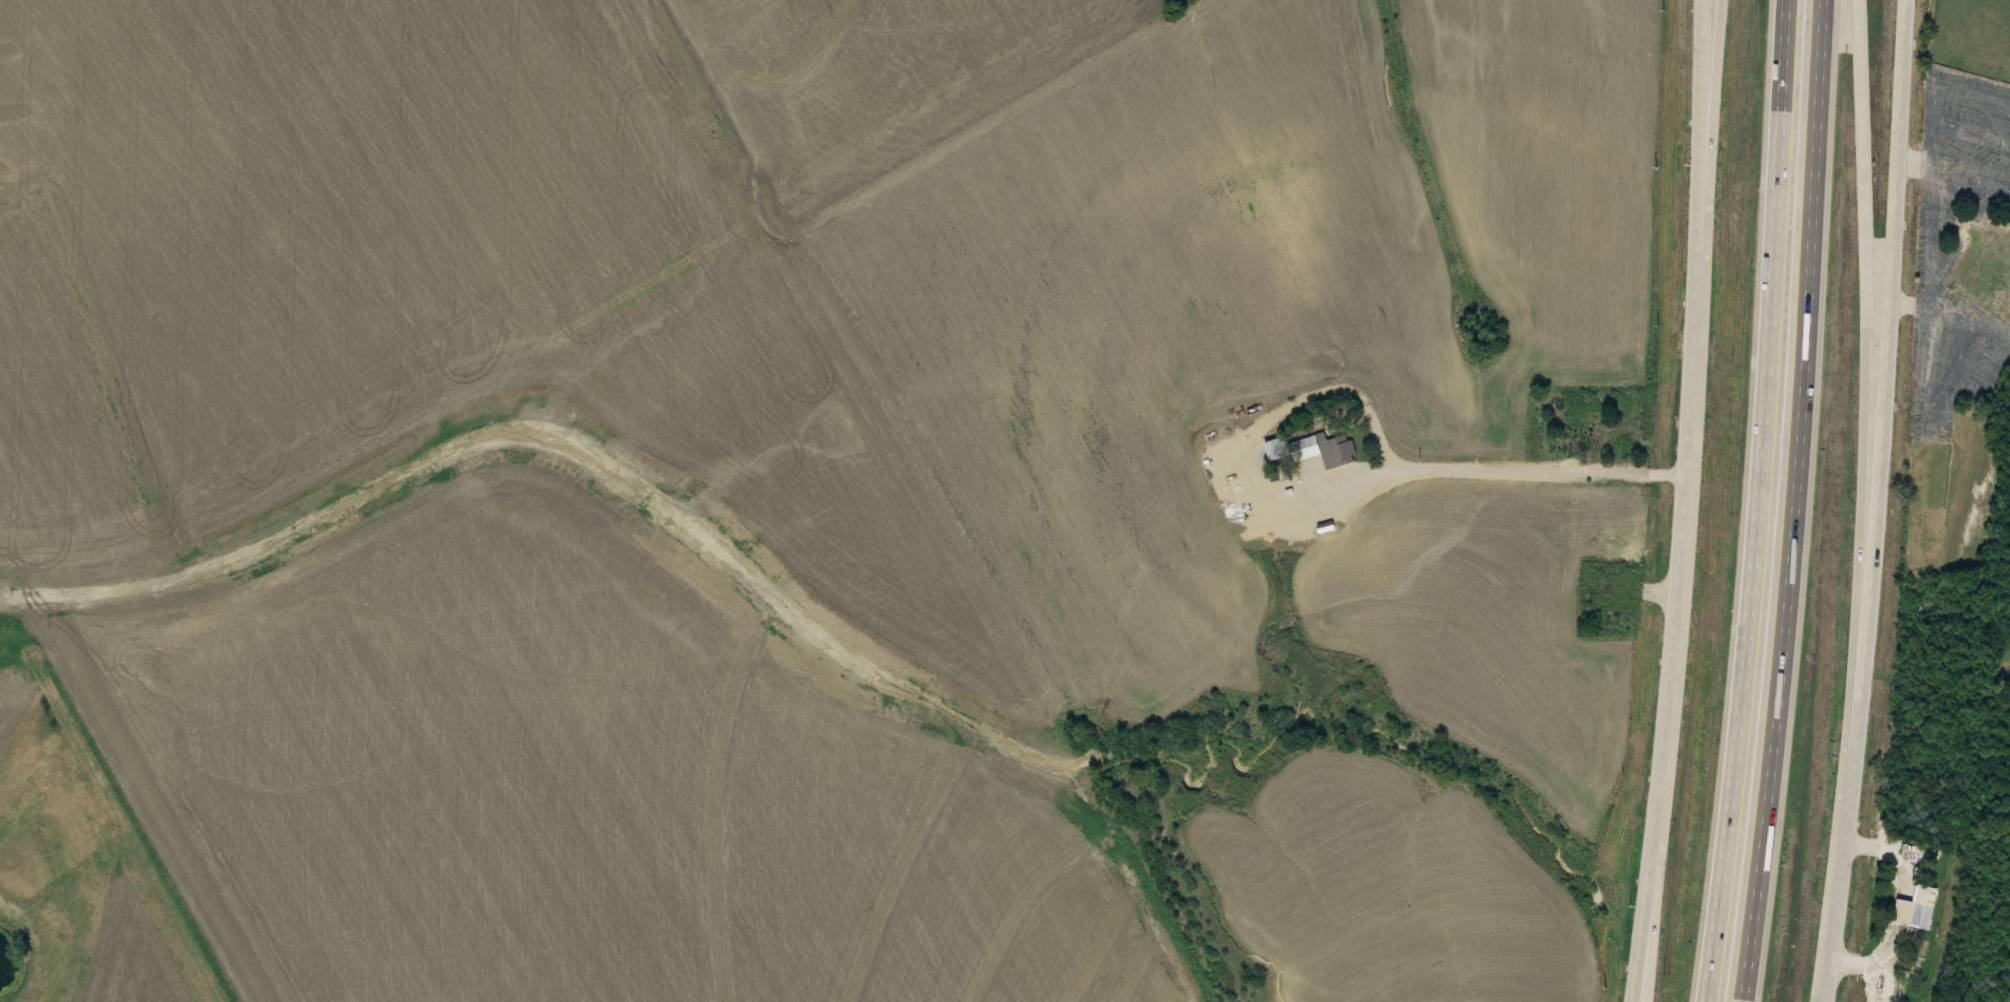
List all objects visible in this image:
crop: (872, 77)
crop: (1551, 147)
road: (1712, 172)
road: (1942, 231)
building: (1986, 260)
crop: (1145, 323)
building: (1678, 367)
road: (1953, 416)
road: (1510, 420)
building: (1589, 427)
building: (1343, 439)
road: (1865, 445)
building: (1308, 446)
road: (1543, 473)
road: (1793, 501)
road: (1694, 502)
road: (1763, 502)
road: (1881, 502)
crop: (1486, 624)
crop: (575, 785)
road: (1661, 872)
crop: (1387, 889)
building: (1914, 908)
road: (1826, 986)

